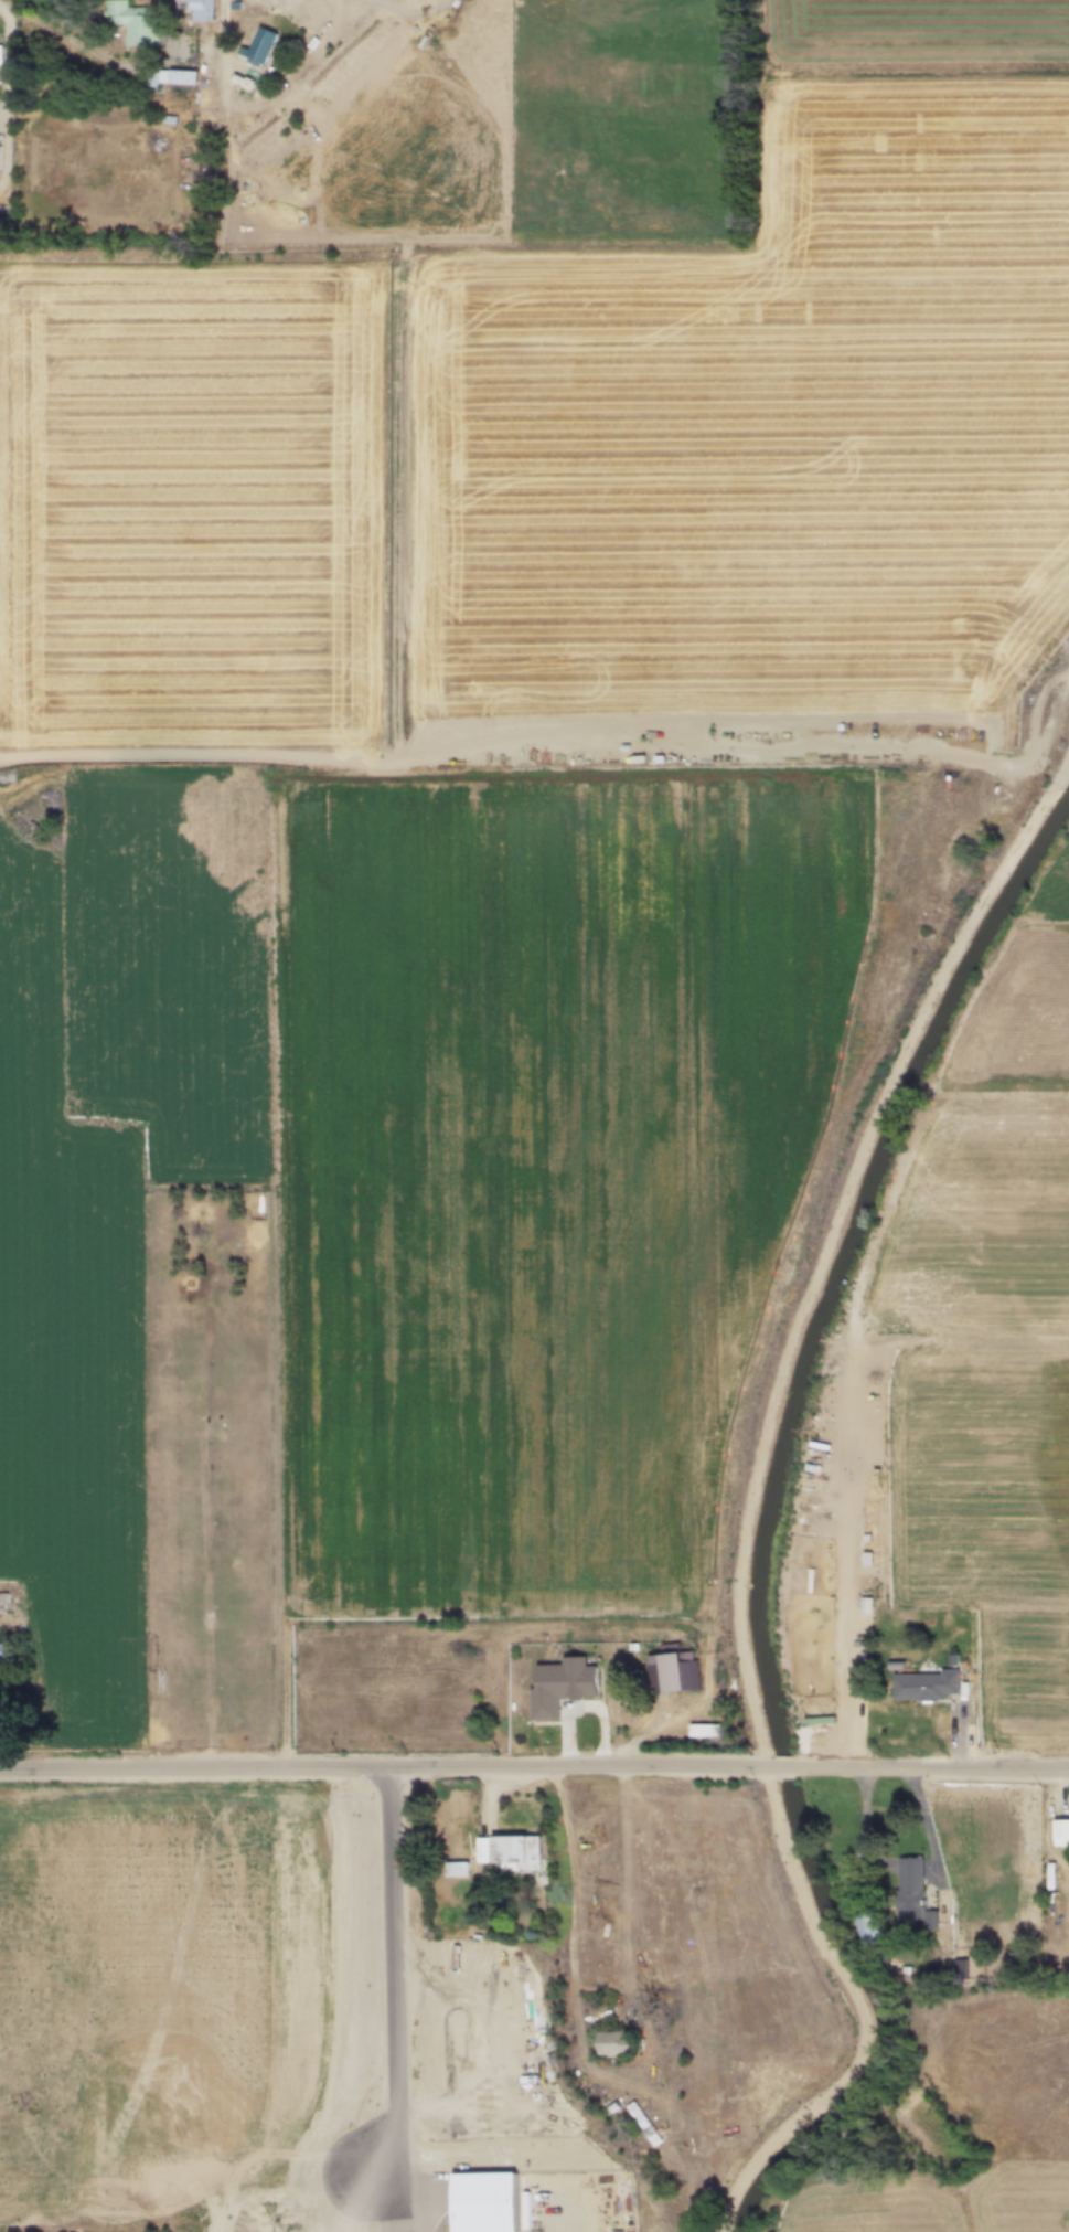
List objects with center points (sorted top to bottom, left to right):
road: (415, 9)
building: (197, 11)
building: (132, 23)
building: (263, 46)
road: (75, 49)
building: (183, 83)
road: (266, 114)
road: (11, 115)
building: (0, 160)
building: (267, 177)
building: (4, 217)
road: (753, 1505)
building: (7, 1654)
building: (672, 1672)
road: (858, 1676)
building: (922, 1684)
building: (566, 1686)
road: (534, 1766)
building: (511, 1853)
building: (458, 1870)
building: (913, 1885)
building: (872, 1926)
road: (571, 1934)
building: (619, 2043)
road: (917, 2130)
building: (488, 2202)

